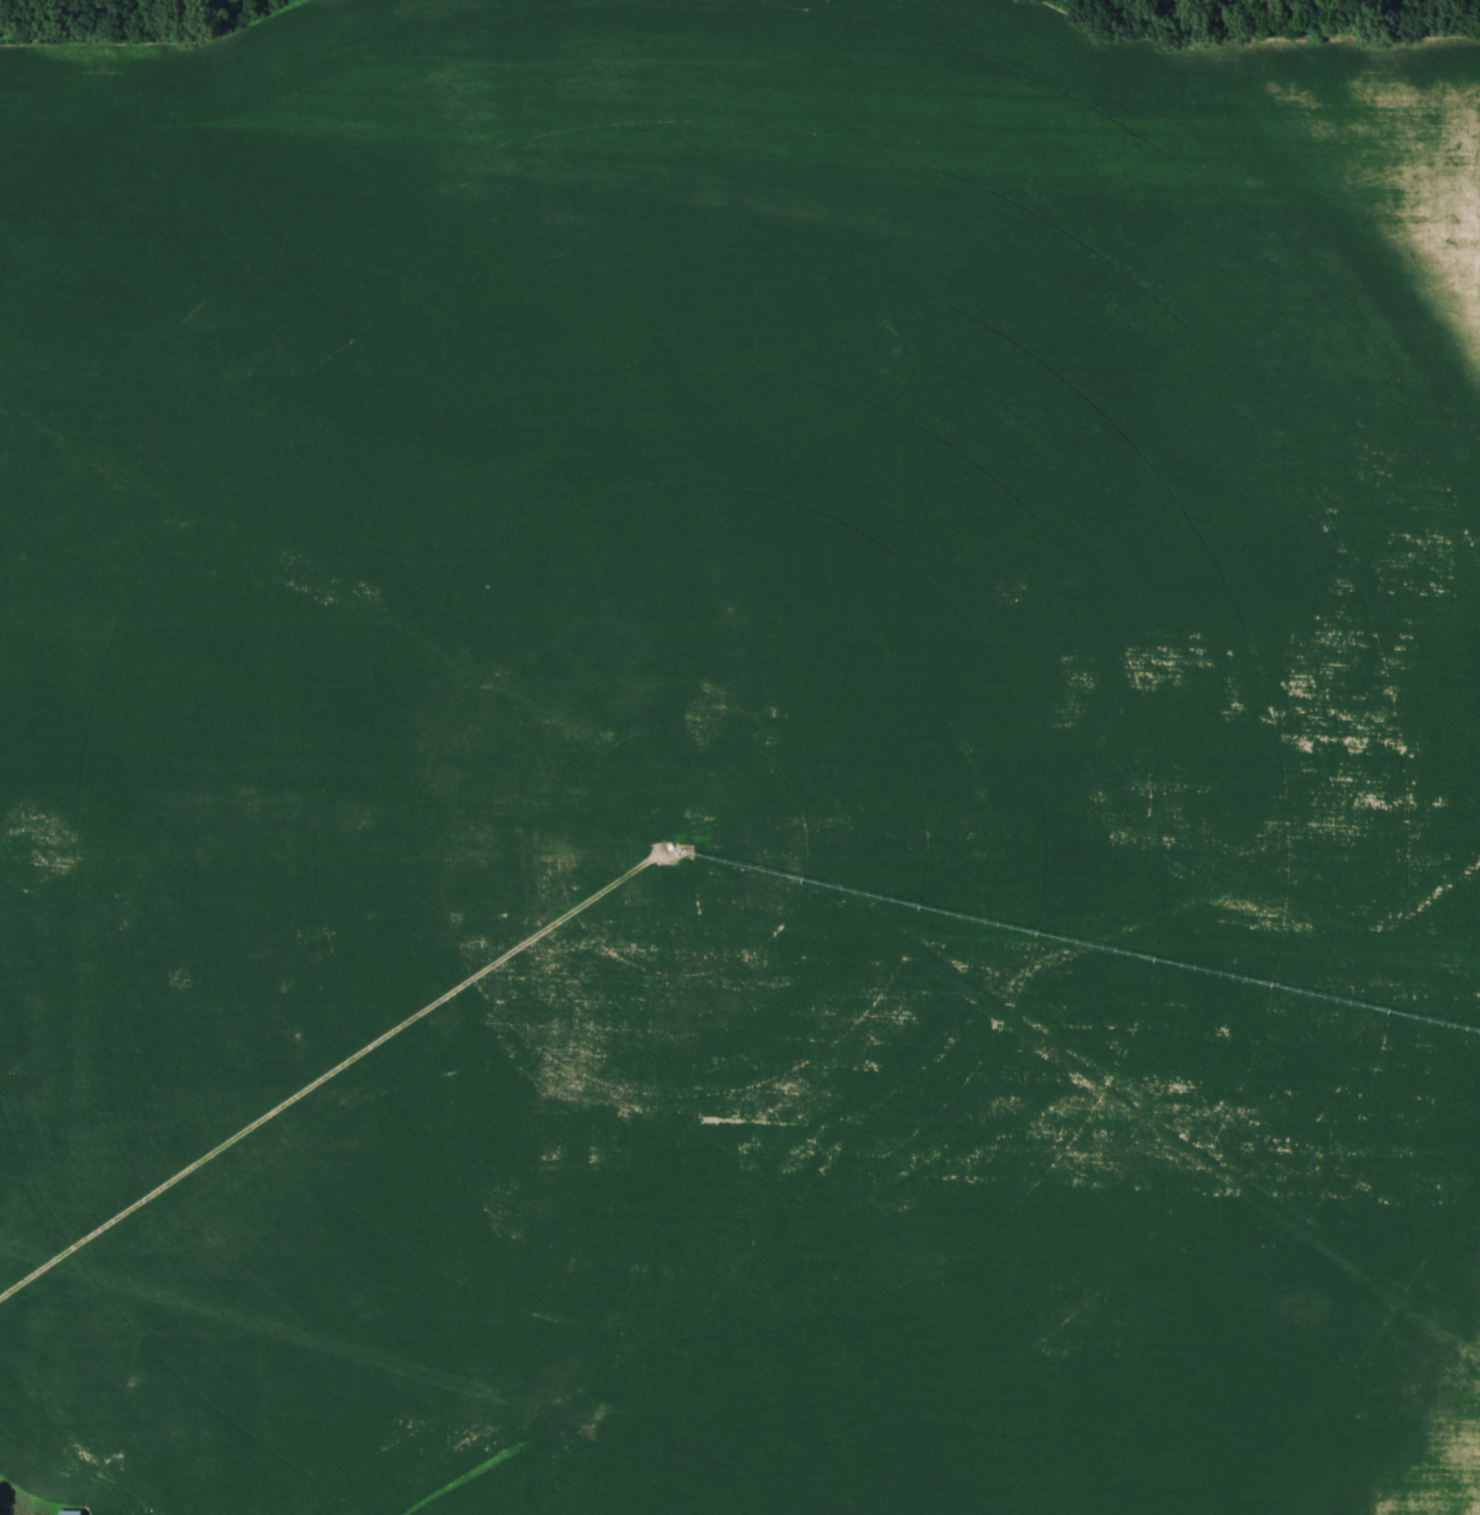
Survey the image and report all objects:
building: (70, 1513)

